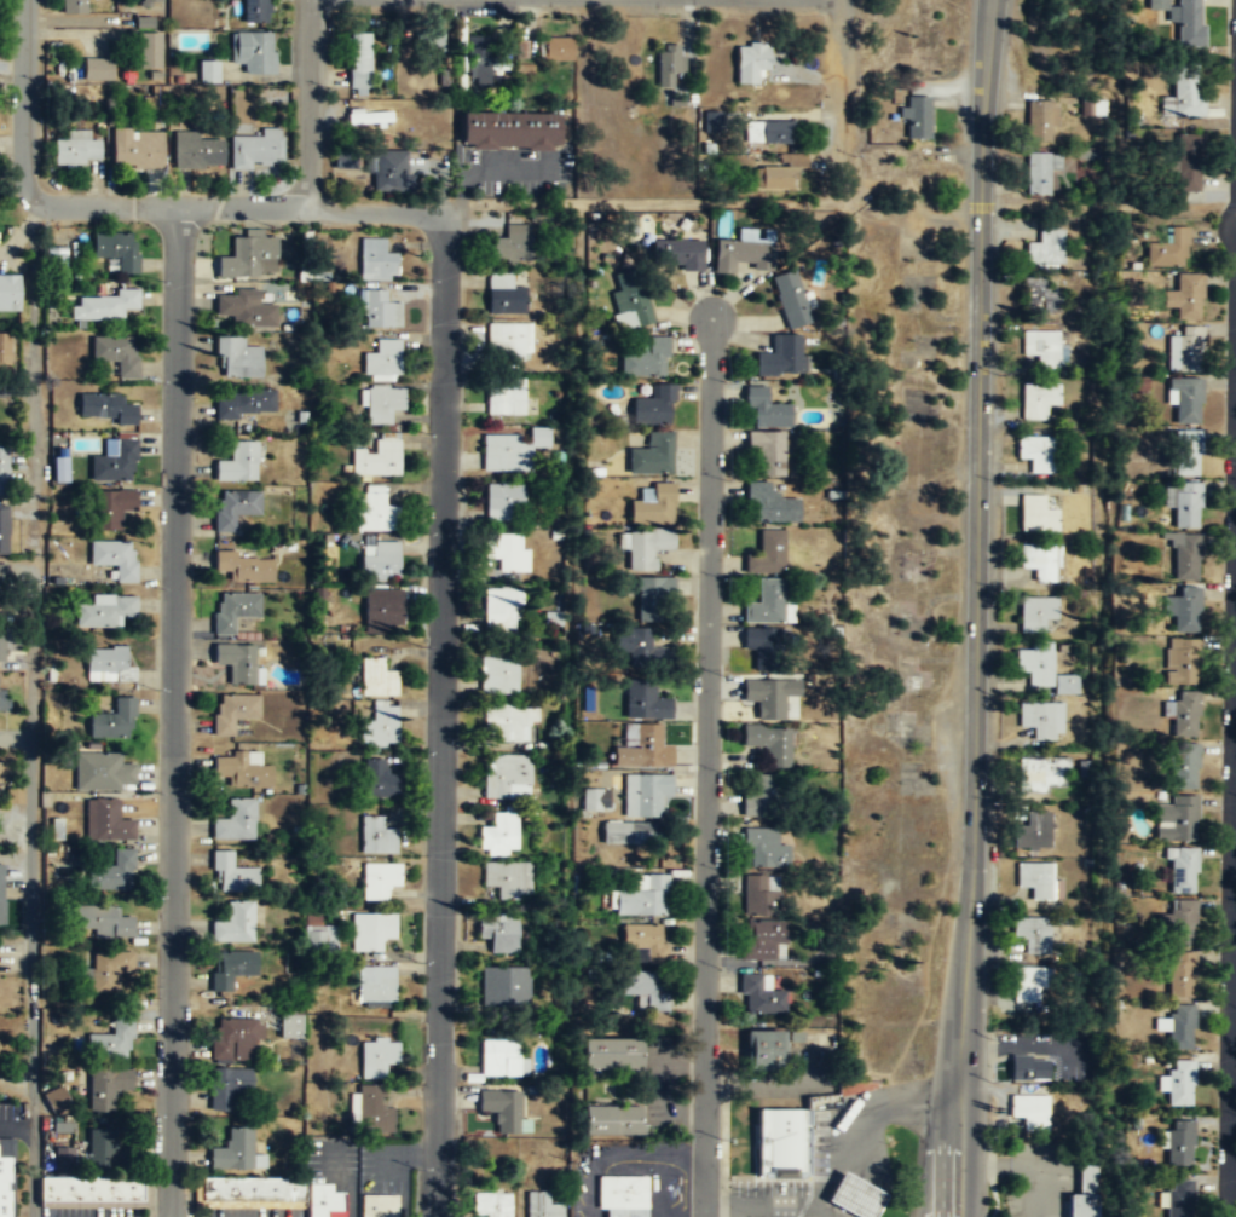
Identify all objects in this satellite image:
building: (149, 1)
building: (1157, 4)
building: (74, 7)
building: (255, 12)
building: (144, 22)
building: (1190, 23)
building: (435, 42)
building: (554, 47)
building: (149, 52)
building: (253, 53)
building: (480, 54)
building: (359, 62)
building: (668, 62)
building: (750, 63)
road: (839, 65)
building: (97, 68)
building: (208, 73)
building: (1184, 92)
road: (307, 104)
building: (916, 116)
building: (1040, 120)
building: (711, 122)
building: (509, 129)
building: (769, 132)
building: (76, 149)
building: (258, 149)
building: (137, 150)
building: (196, 150)
building: (1186, 162)
building: (1039, 169)
building: (388, 171)
road: (477, 173)
building: (773, 178)
road: (242, 208)
building: (512, 244)
building: (1045, 246)
building: (1168, 247)
building: (116, 250)
building: (675, 254)
building: (741, 255)
building: (249, 258)
building: (376, 260)
building: (8, 290)
building: (504, 295)
building: (1038, 295)
building: (1184, 296)
building: (790, 299)
building: (630, 300)
building: (103, 307)
building: (244, 308)
building: (377, 311)
building: (508, 342)
building: (1039, 347)
building: (1183, 348)
building: (5, 350)
building: (116, 354)
building: (778, 356)
building: (382, 358)
building: (237, 359)
building: (645, 361)
building: (506, 397)
building: (1183, 398)
building: (1036, 400)
building: (247, 404)
building: (381, 404)
building: (108, 408)
building: (653, 408)
building: (764, 408)
building: (510, 449)
building: (766, 450)
building: (1186, 451)
building: (1036, 452)
building: (651, 454)
building: (377, 458)
building: (115, 460)
building: (238, 463)
building: (58, 468)
building: (2, 469)
building: (504, 501)
building: (1183, 502)
building: (651, 503)
building: (769, 503)
building: (116, 506)
building: (233, 508)
building: (374, 509)
building: (1035, 513)
building: (4, 529)
building: (643, 547)
building: (507, 550)
building: (766, 553)
building: (1183, 554)
building: (115, 558)
building: (380, 560)
building: (1039, 560)
road: (31, 567)
building: (243, 569)
building: (4, 577)
building: (651, 599)
building: (766, 602)
building: (382, 608)
road: (976, 608)
building: (1182, 608)
building: (233, 610)
building: (501, 610)
building: (104, 611)
building: (1035, 612)
building: (2, 646)
building: (641, 647)
building: (759, 647)
building: (1180, 661)
building: (238, 663)
building: (108, 665)
building: (1041, 668)
building: (498, 676)
building: (377, 679)
building: (770, 696)
building: (643, 699)
building: (4, 703)
road: (174, 711)
building: (232, 713)
building: (1183, 714)
building: (114, 720)
building: (1039, 720)
building: (512, 722)
road: (440, 725)
building: (377, 727)
building: (768, 742)
building: (641, 748)
building: (1183, 766)
road: (705, 767)
building: (242, 769)
building: (4, 771)
building: (103, 772)
building: (1041, 773)
building: (506, 775)
building: (379, 780)
building: (645, 794)
building: (759, 795)
building: (12, 796)
building: (590, 802)
building: (1176, 819)
building: (233, 820)
building: (106, 821)
building: (1032, 830)
building: (630, 834)
building: (498, 835)
building: (375, 837)
building: (763, 848)
building: (1180, 869)
building: (115, 871)
building: (231, 875)
building: (506, 879)
building: (377, 881)
building: (1038, 881)
building: (2, 893)
building: (762, 894)
building: (643, 896)
road: (1232, 906)
building: (1182, 921)
building: (100, 922)
building: (235, 924)
building: (318, 932)
building: (370, 932)
building: (498, 934)
building: (1032, 934)
building: (762, 940)
building: (645, 941)
building: (231, 968)
building: (109, 970)
building: (1180, 975)
building: (1028, 982)
building: (375, 986)
building: (504, 987)
building: (645, 990)
building: (759, 996)
building: (291, 1025)
building: (1177, 1026)
building: (235, 1039)
building: (112, 1042)
building: (761, 1050)
building: (611, 1054)
building: (376, 1057)
building: (502, 1057)
building: (1027, 1066)
building: (1178, 1083)
building: (108, 1088)
building: (229, 1089)
building: (56, 1101)
building: (1028, 1108)
building: (371, 1109)
building: (503, 1111)
building: (612, 1120)
road: (16, 1126)
building: (62, 1126)
building: (781, 1140)
building: (1179, 1141)
building: (104, 1150)
building: (233, 1152)
building: (86, 1182)
building: (5, 1186)
building: (250, 1187)
building: (622, 1190)
building: (854, 1194)
gas station: (854, 1194)
building: (1086, 1194)
building: (1178, 1198)
building: (322, 1199)
building: (491, 1202)
building: (377, 1205)
building: (541, 1205)
parking lot: (254, 1211)
building: (626, 1211)

